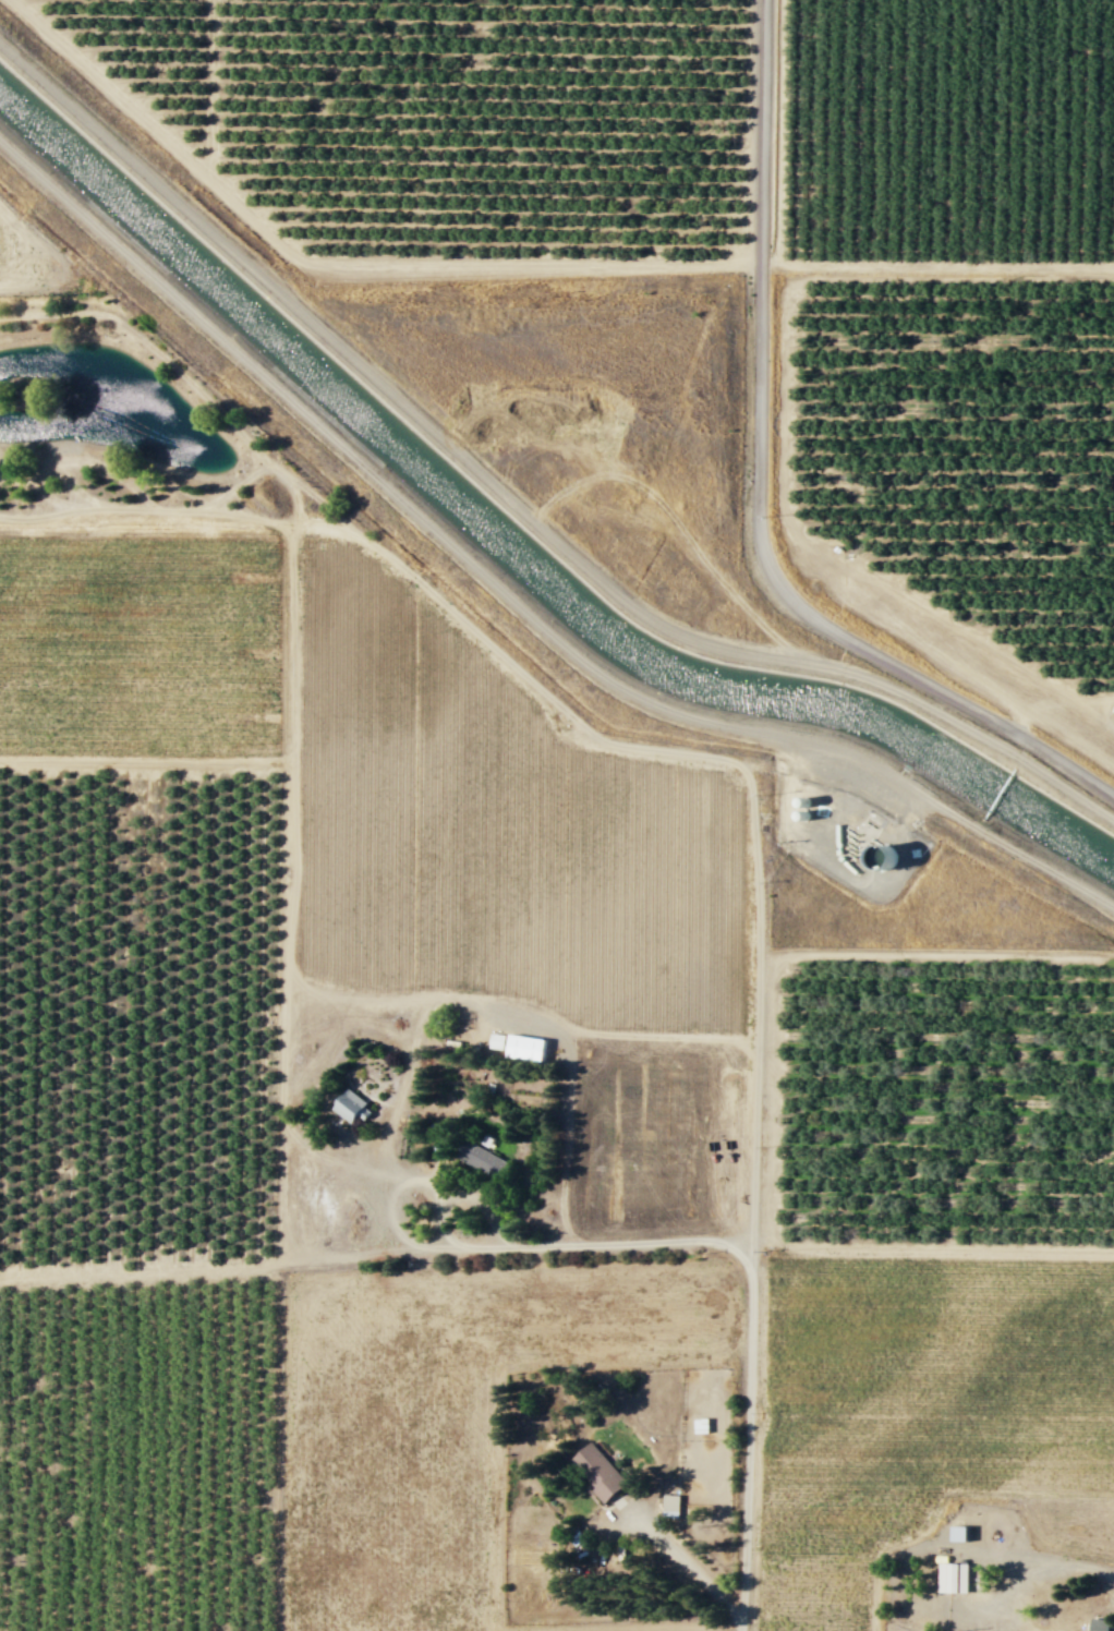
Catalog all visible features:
road: (208, 90)
road: (20, 254)
crop: (37, 261)
road: (334, 263)
road: (815, 265)
road: (76, 459)
road: (235, 484)
road: (74, 486)
road: (759, 491)
road: (513, 504)
road: (145, 509)
road: (323, 523)
road: (291, 692)
road: (716, 757)
road: (145, 762)
crop: (403, 772)
water tower: (877, 856)
road: (927, 954)
road: (378, 998)
building: (496, 1040)
building: (522, 1048)
road: (562, 1090)
road: (399, 1091)
building: (348, 1106)
building: (481, 1159)
road: (340, 1162)
road: (395, 1189)
road: (932, 1245)
road: (209, 1270)
road: (749, 1301)
crop: (924, 1410)
building: (699, 1425)
building: (598, 1472)
building: (669, 1505)
building: (957, 1533)
road: (1042, 1561)
road: (690, 1566)
building: (946, 1578)
building: (1098, 1624)

